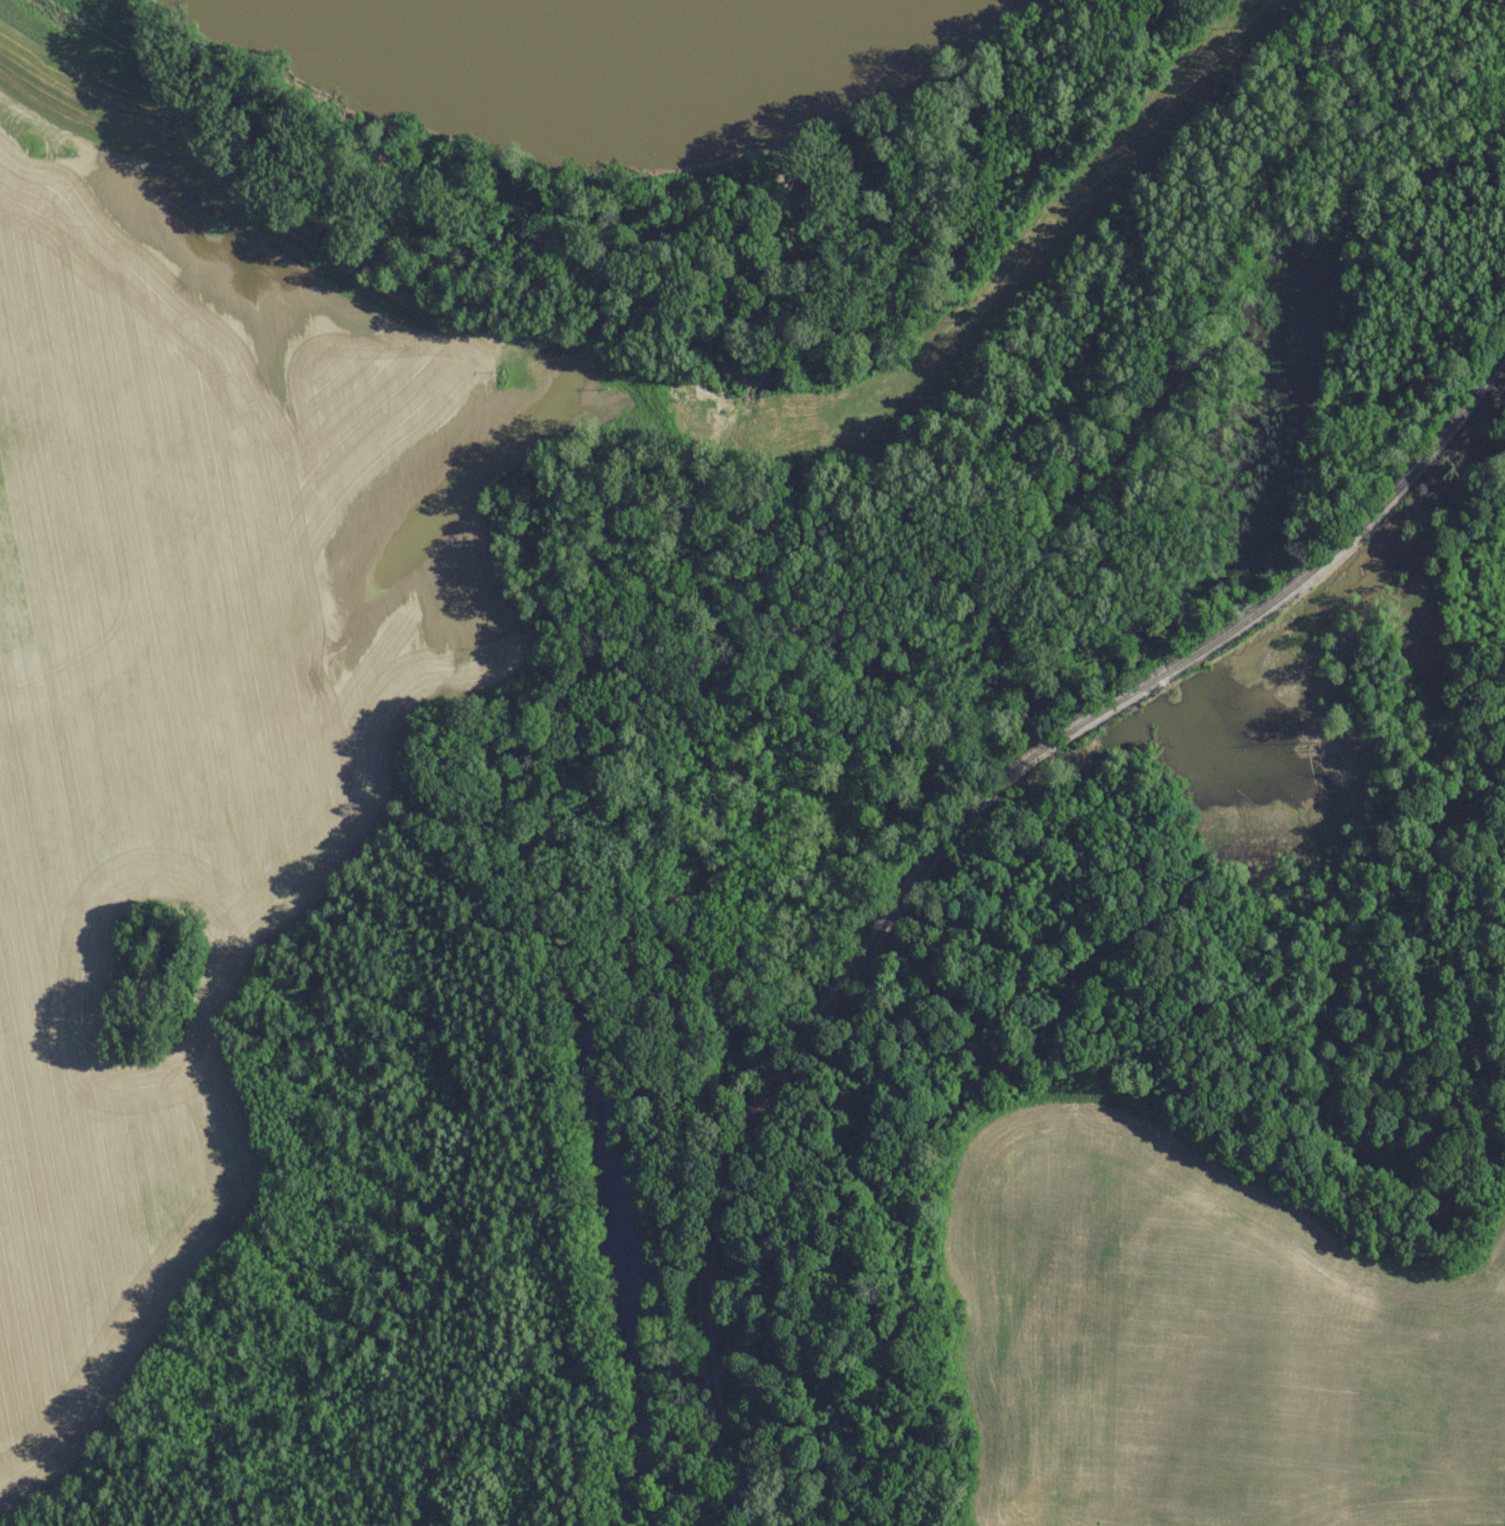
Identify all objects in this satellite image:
river: (627, 25)
railway: (939, 851)

